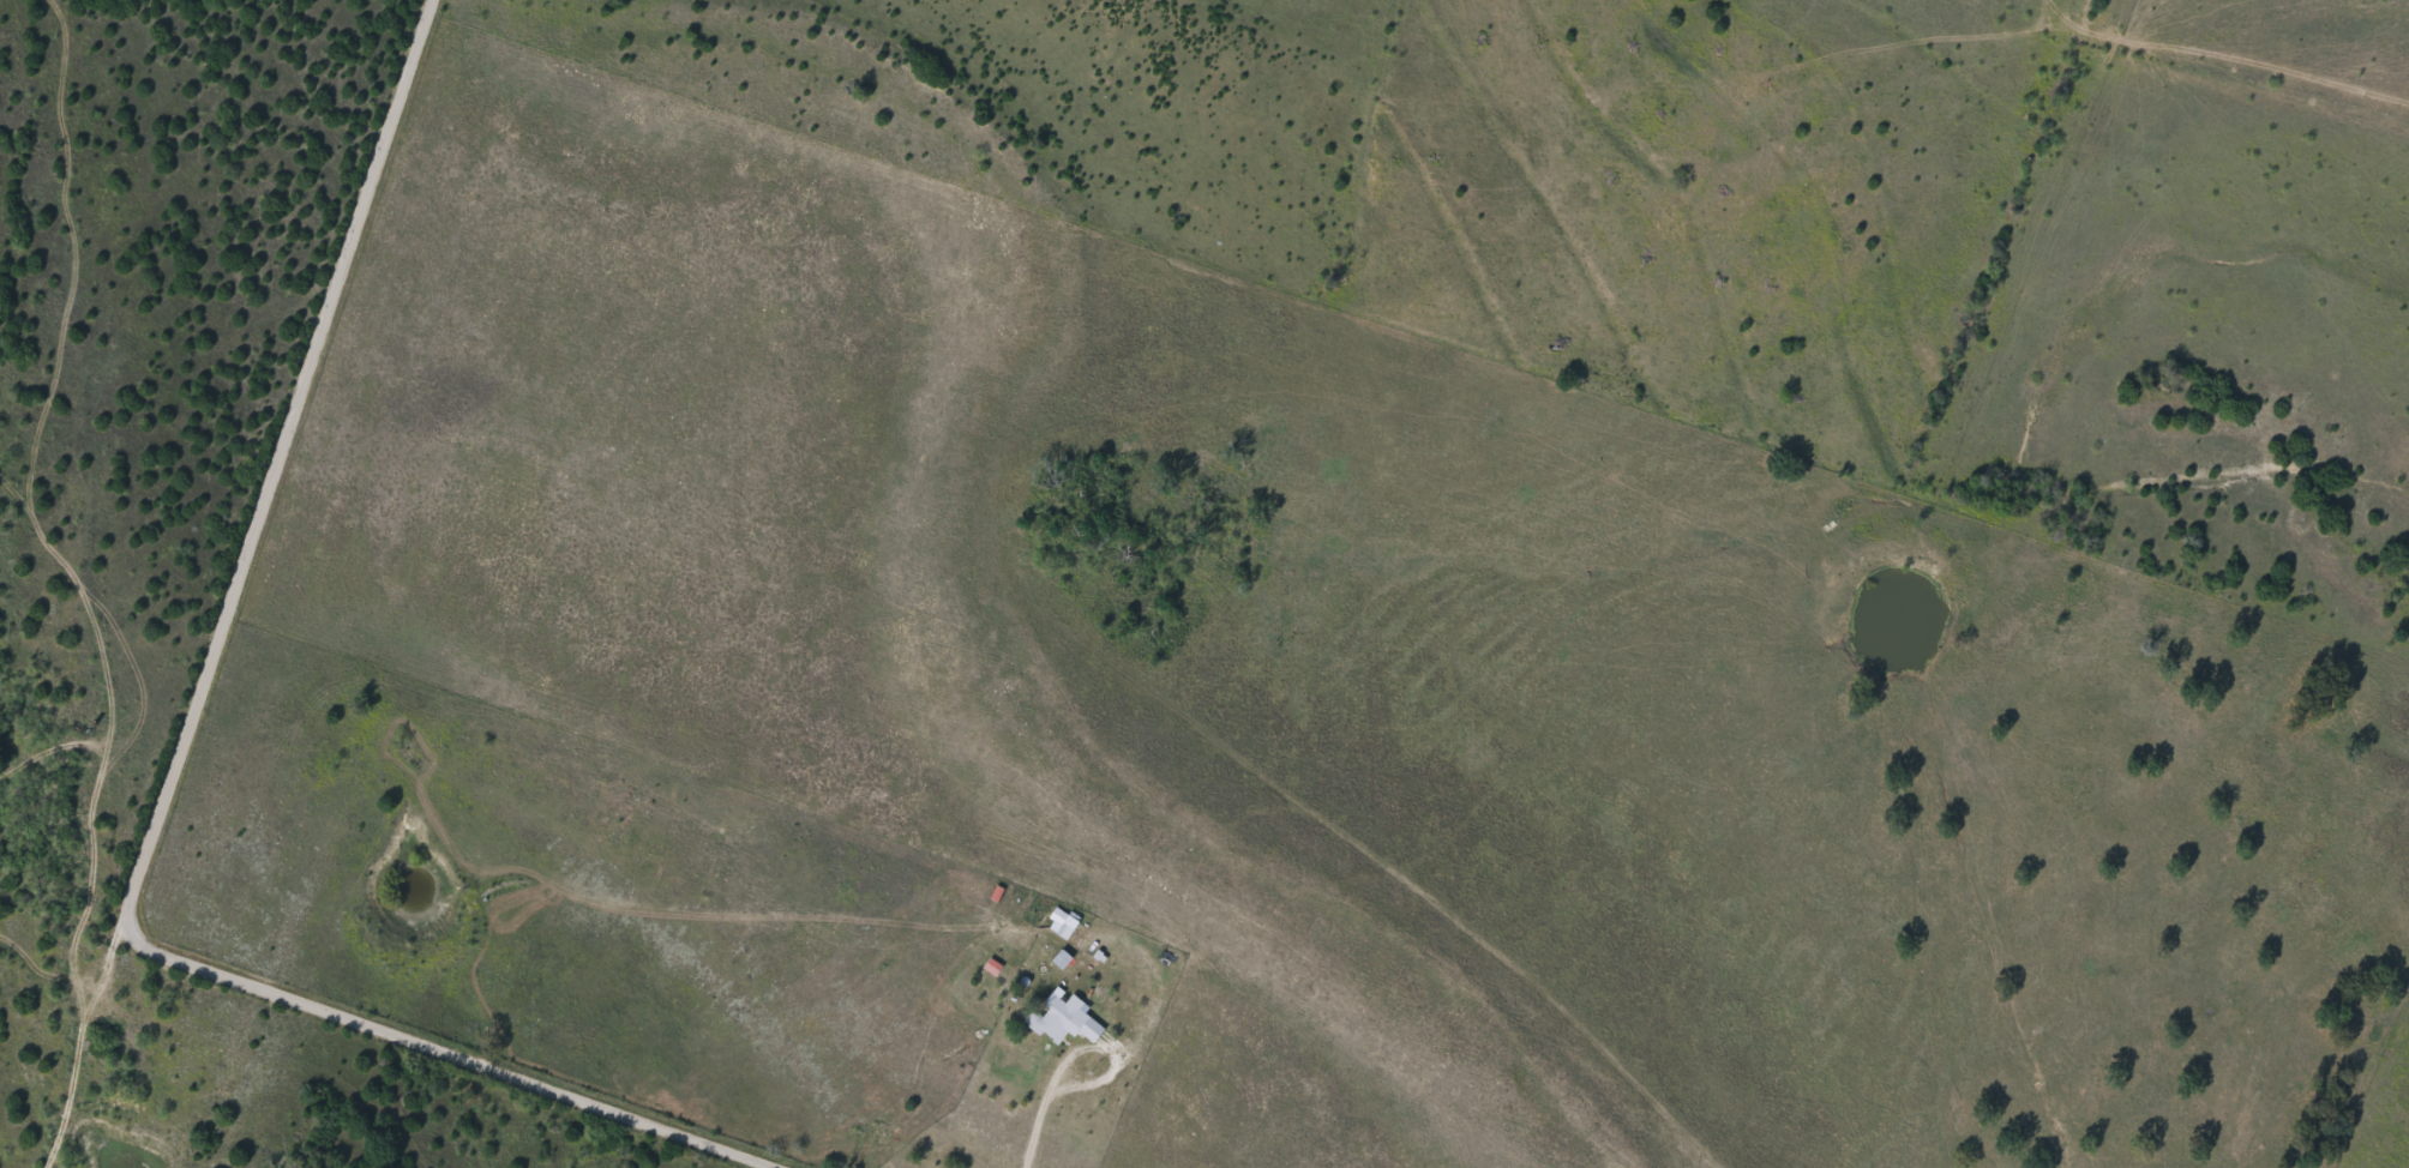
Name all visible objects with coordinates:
road: (270, 463)
building: (1068, 1019)
road: (88, 1049)
road: (443, 1054)

